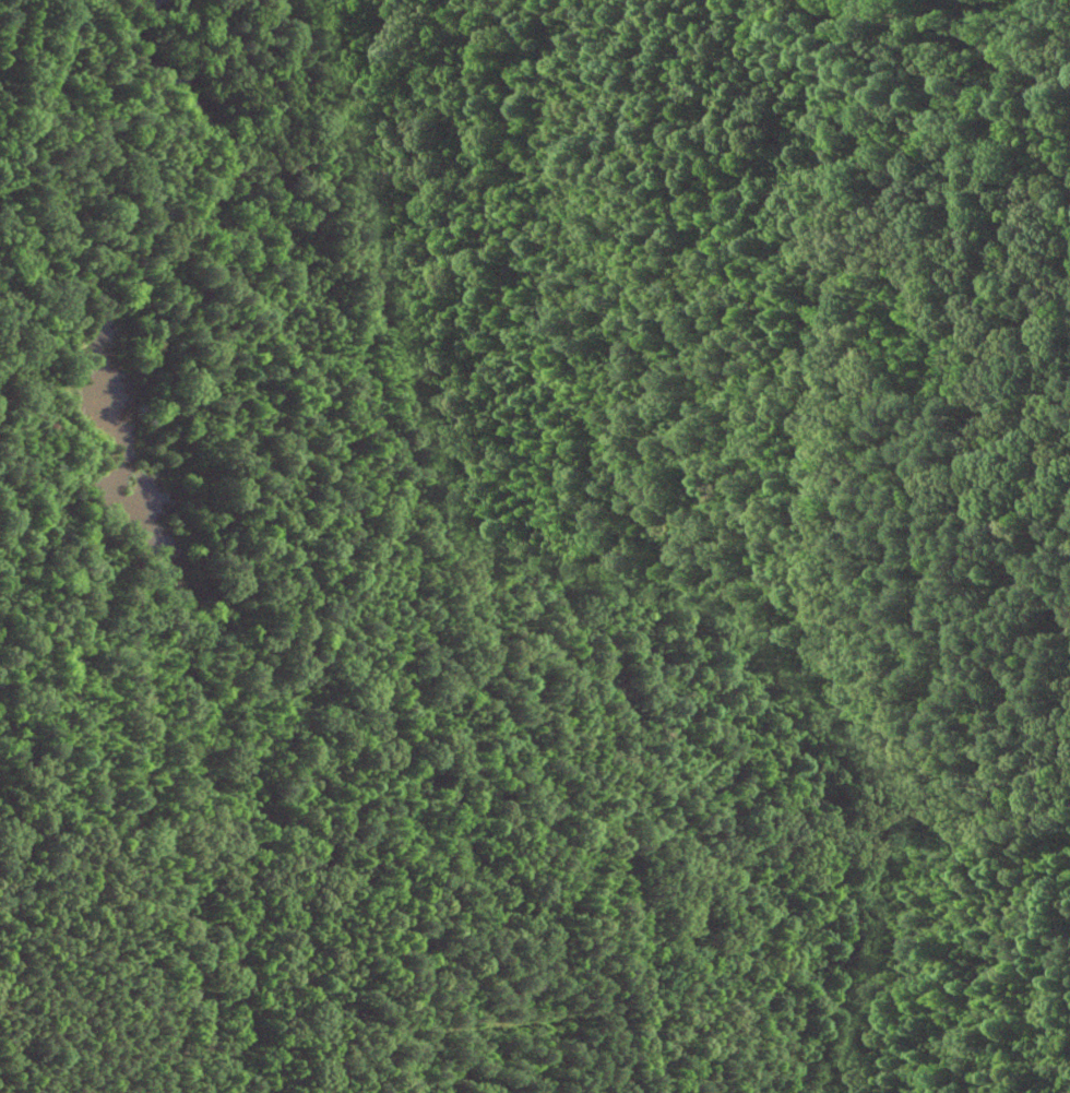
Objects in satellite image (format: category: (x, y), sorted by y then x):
road: (971, 1080)

